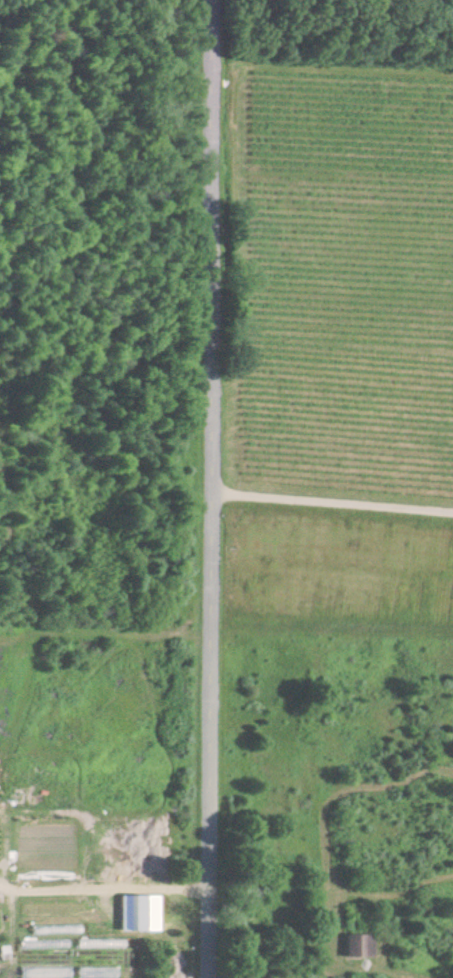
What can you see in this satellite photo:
road: (212, 489)
road: (332, 501)
road: (106, 883)
building: (138, 913)
building: (357, 946)

